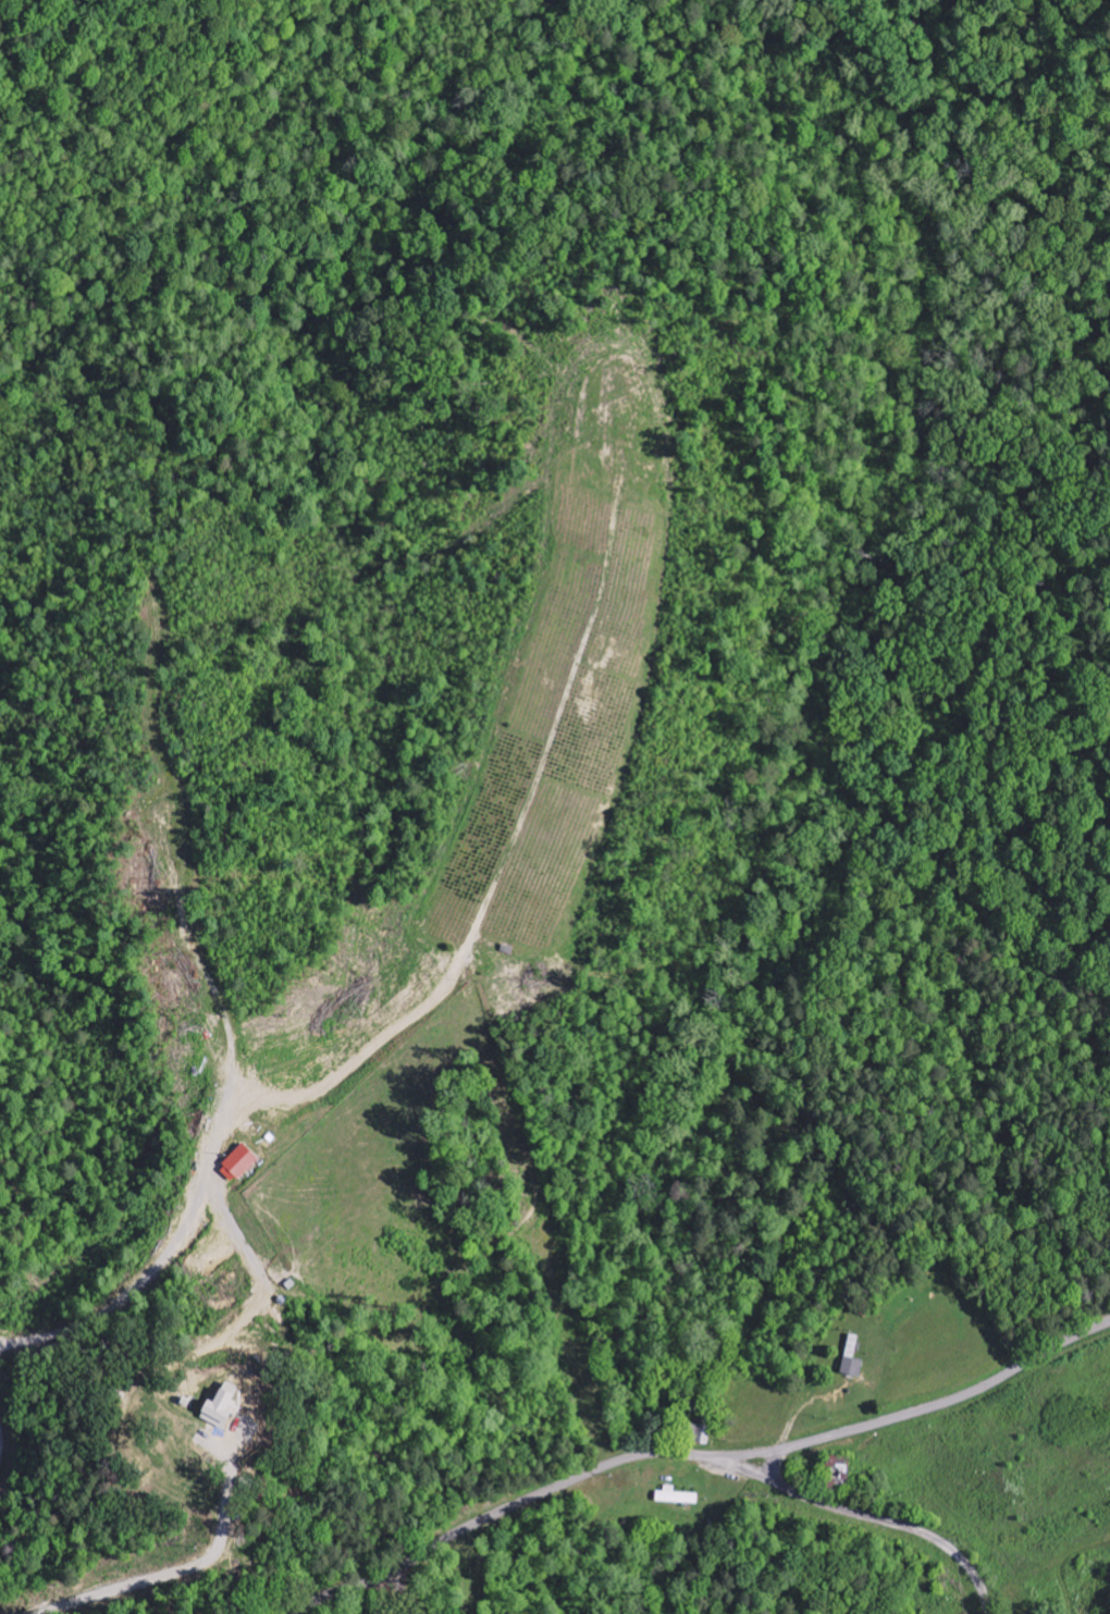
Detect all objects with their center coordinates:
building: (243, 1163)
road: (197, 1271)
building: (853, 1358)
building: (224, 1406)
building: (702, 1434)
road: (15, 1446)
road: (699, 1458)
road: (776, 1466)
building: (676, 1496)
road: (866, 1513)

